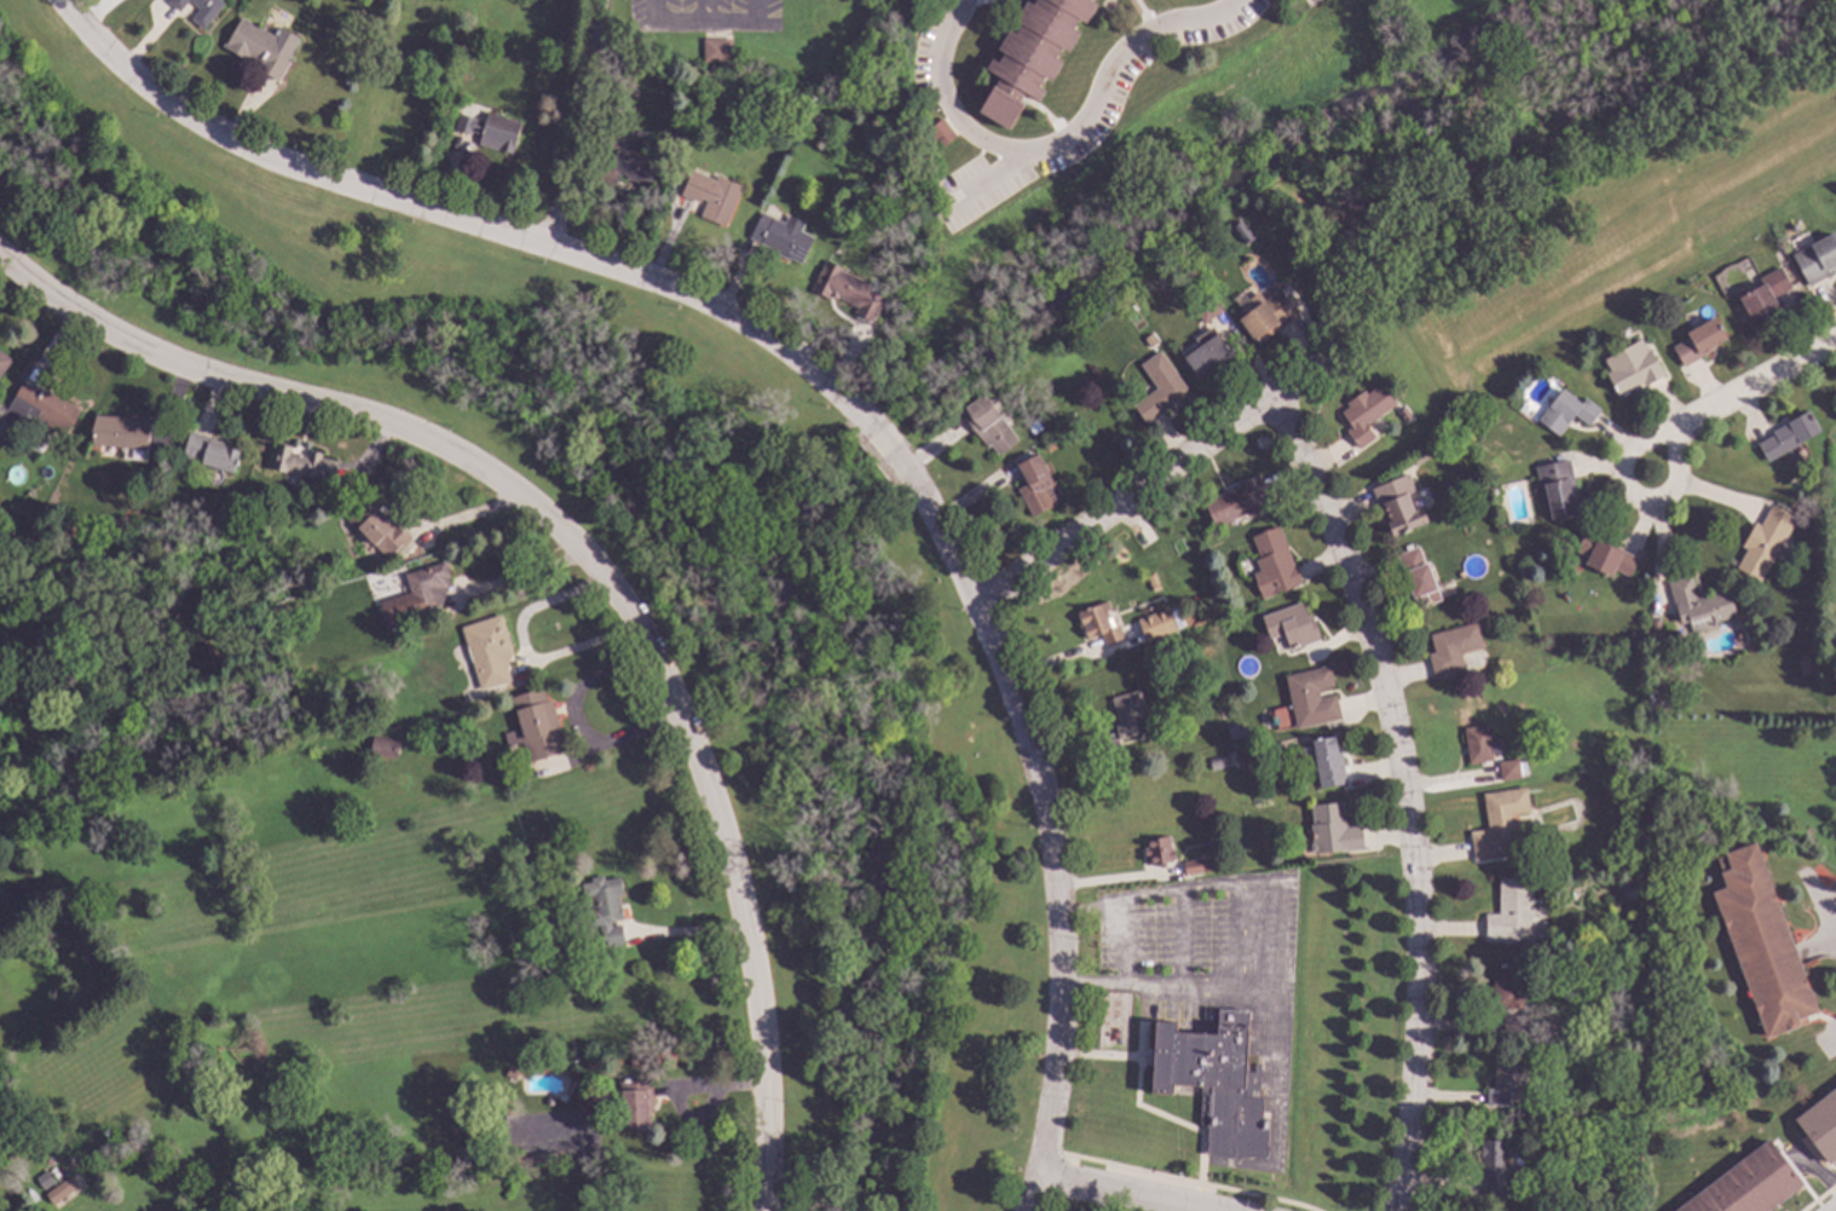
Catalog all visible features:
building: (198, 10)
road: (705, 12)
road: (708, 24)
building: (261, 47)
building: (716, 51)
building: (1032, 54)
building: (682, 92)
building: (812, 116)
building: (490, 131)
building: (940, 133)
road: (1057, 142)
building: (627, 157)
road: (987, 177)
building: (664, 186)
building: (711, 196)
building: (881, 220)
building: (1241, 232)
building: (781, 237)
building: (1817, 259)
building: (847, 290)
building: (1763, 298)
building: (1206, 310)
building: (1266, 317)
building: (1698, 342)
building: (1207, 352)
building: (4, 362)
building: (1632, 368)
road: (1756, 384)
building: (1157, 388)
road: (833, 390)
building: (40, 409)
building: (1566, 413)
building: (1366, 414)
building: (987, 425)
building: (1, 426)
building: (1033, 428)
building: (119, 432)
building: (1788, 436)
building: (1047, 446)
building: (210, 452)
building: (1419, 456)
building: (301, 463)
river: (675, 478)
building: (1035, 485)
building: (1557, 489)
building: (1491, 492)
road: (1633, 492)
road: (1125, 500)
building: (1237, 502)
building: (1398, 506)
building: (111, 526)
building: (374, 531)
building: (1763, 543)
building: (1604, 557)
building: (1272, 565)
road: (593, 569)
building: (226, 572)
road: (514, 577)
park: (647, 578)
building: (1418, 578)
building: (416, 596)
building: (1699, 606)
building: (1098, 624)
building: (1291, 627)
building: (1167, 630)
building: (1655, 632)
building: (127, 633)
building: (1634, 638)
building: (1451, 648)
building: (487, 651)
building: (1805, 667)
building: (1310, 698)
building: (1128, 715)
building: (537, 726)
road: (578, 728)
building: (1235, 732)
building: (1478, 744)
building: (382, 746)
road: (1405, 760)
building: (1217, 762)
building: (1327, 763)
building: (1508, 769)
building: (1497, 825)
building: (1332, 831)
building: (1546, 841)
building: (1157, 852)
building: (1195, 866)
building: (1628, 894)
road: (1819, 904)
building: (602, 907)
building: (1511, 912)
road: (1240, 935)
building: (1761, 942)
building: (561, 950)
building: (1507, 986)
building: (1514, 1026)
building: (510, 1073)
building: (1214, 1083)
building: (1506, 1085)
building: (548, 1101)
building: (635, 1105)
building: (1566, 1114)
building: (1820, 1125)
building: (11, 1132)
building: (1633, 1144)
building: (1664, 1164)
building: (1495, 1171)
building: (44, 1181)
building: (1746, 1184)
building: (192, 1186)
building: (60, 1190)
road: (1130, 1192)

